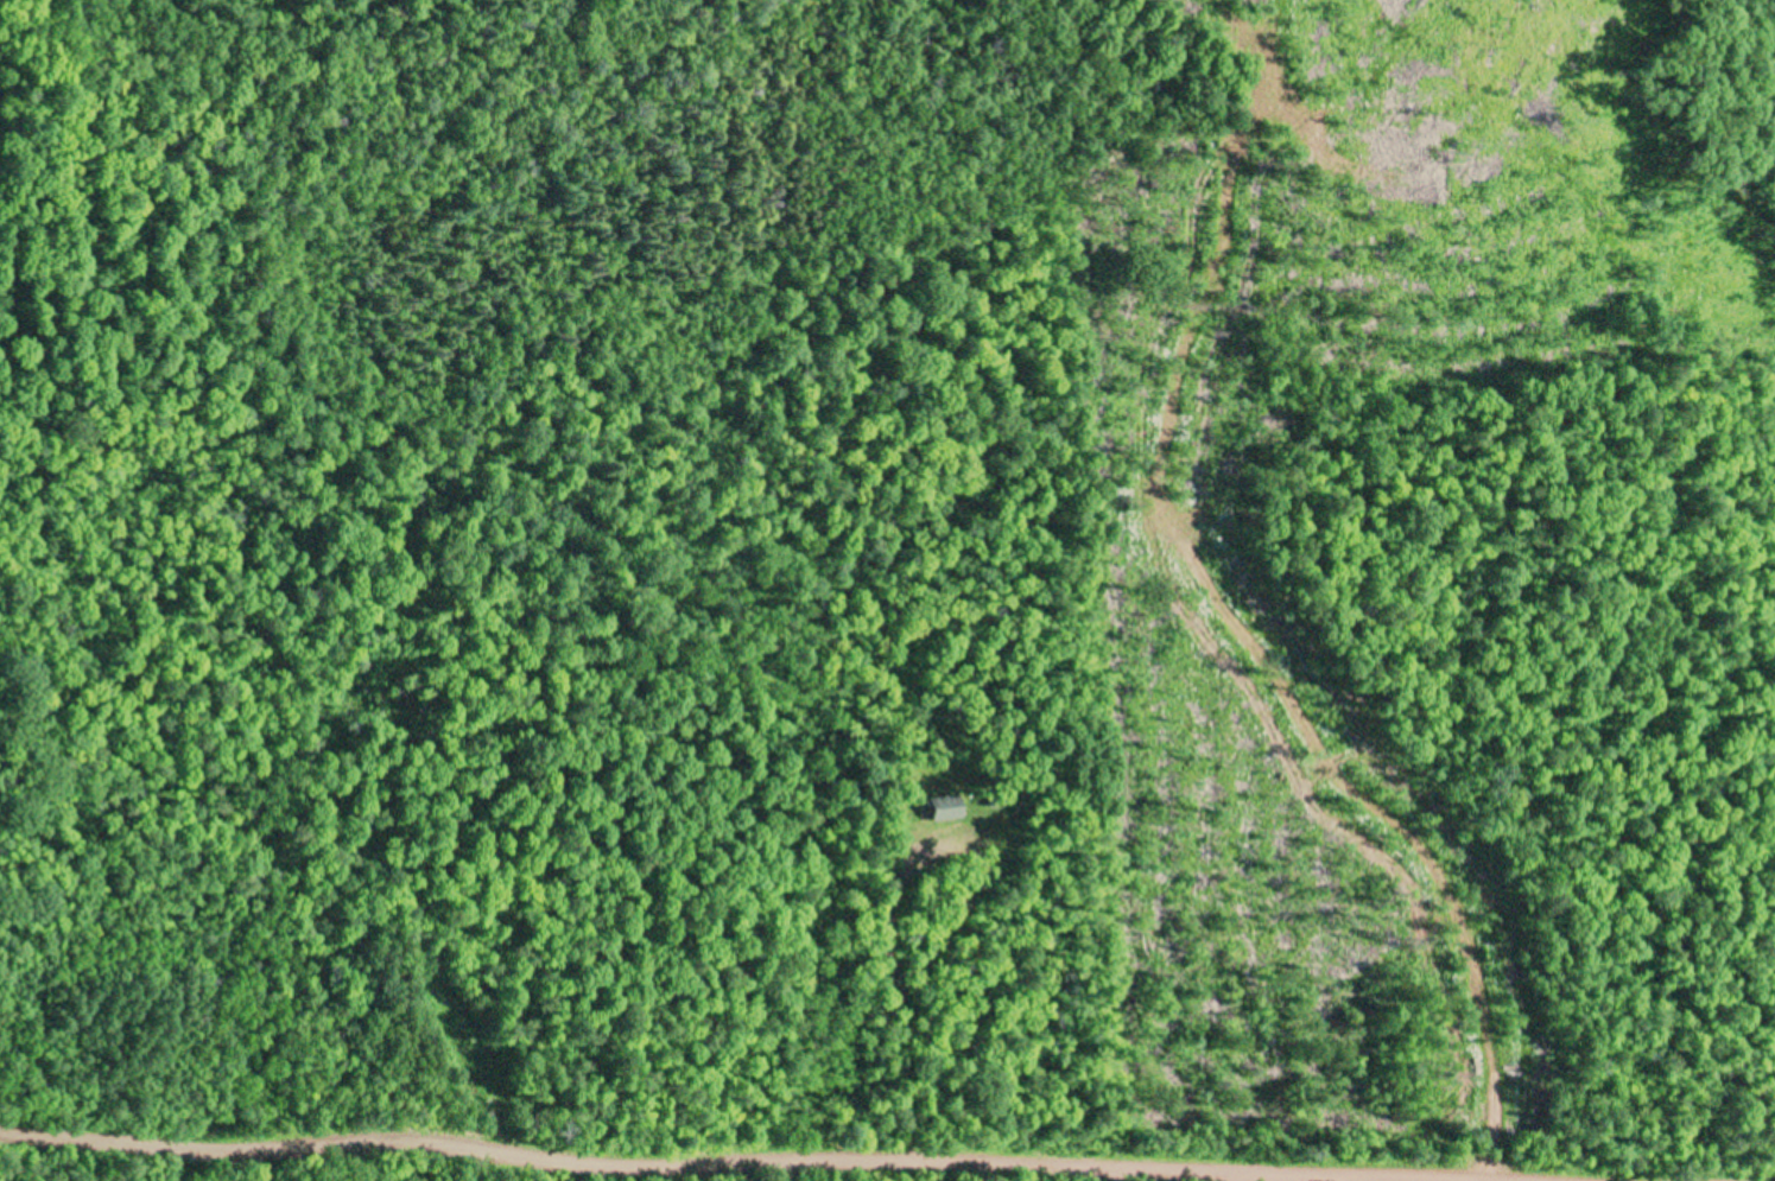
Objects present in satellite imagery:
building: (942, 806)
road: (687, 1157)

